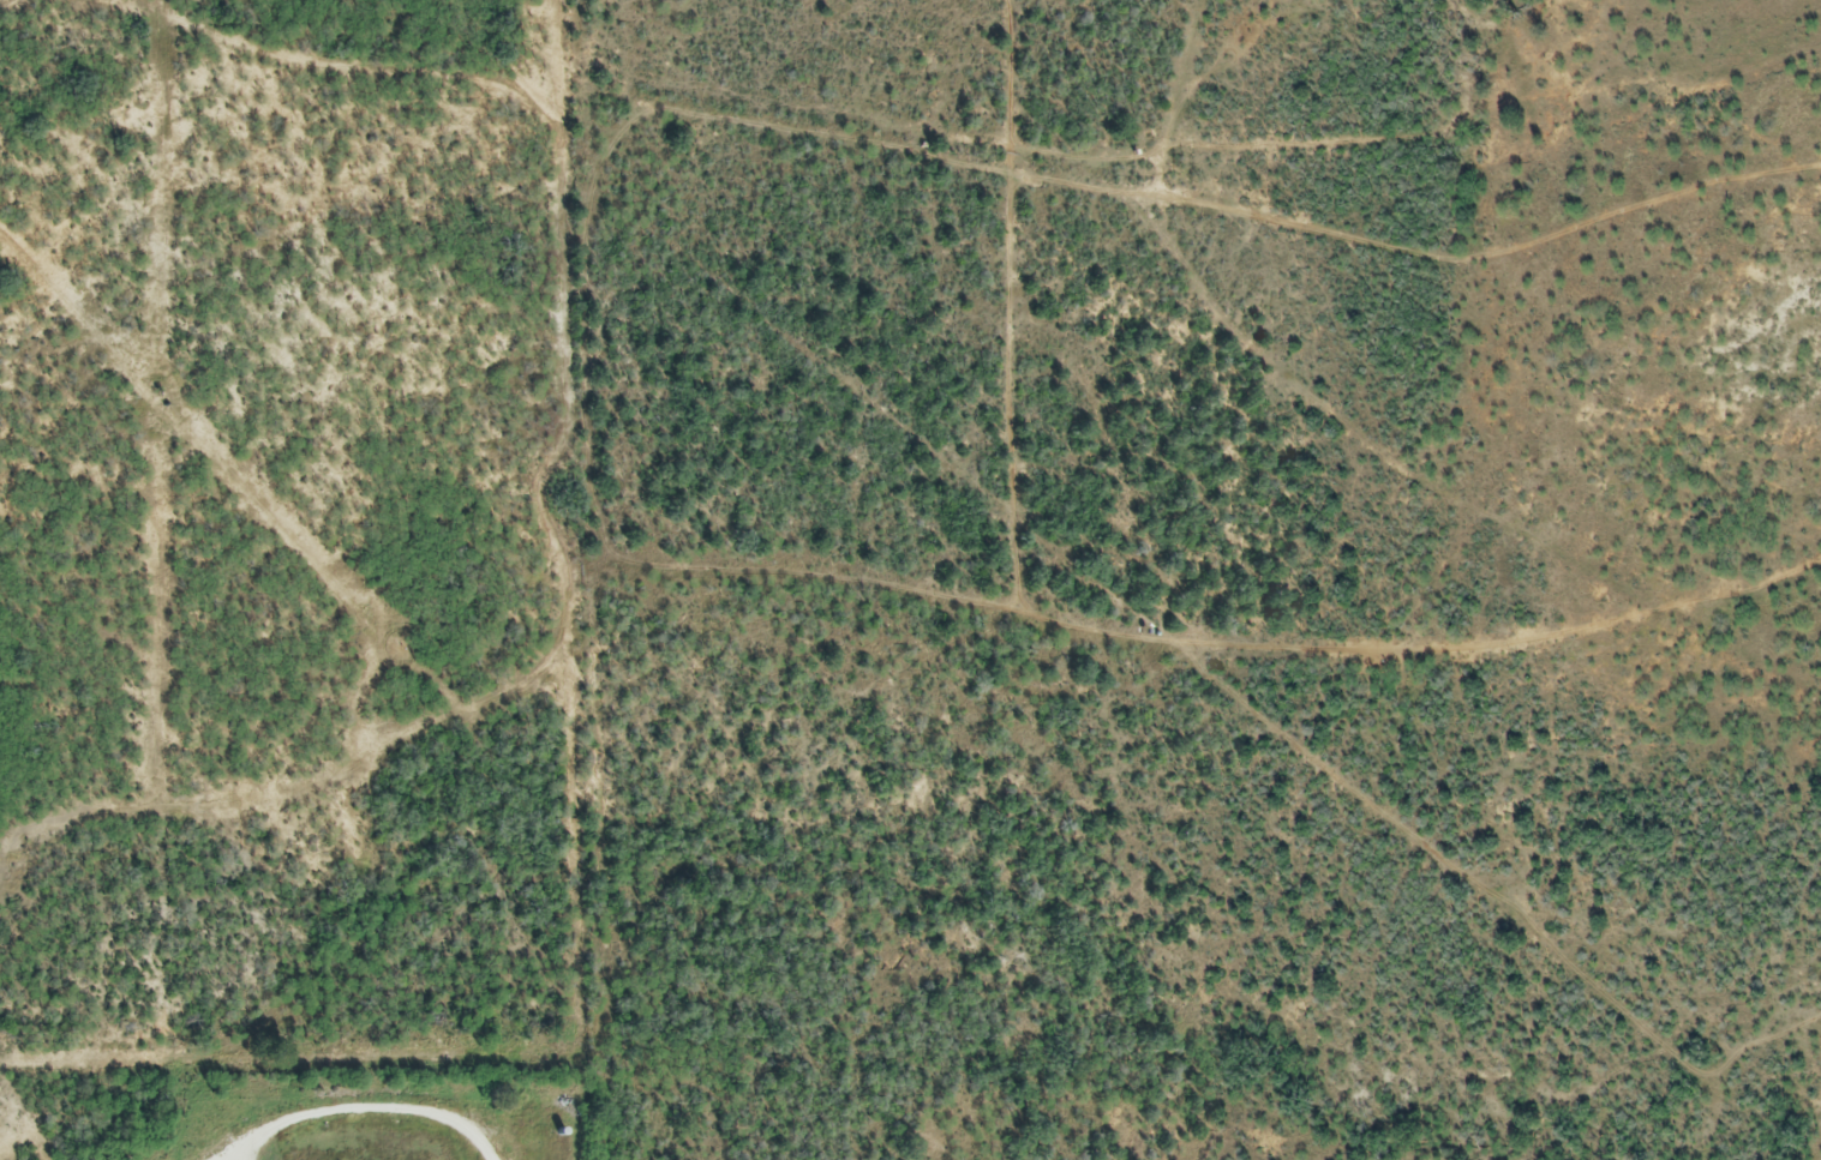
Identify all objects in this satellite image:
road: (363, 1110)

